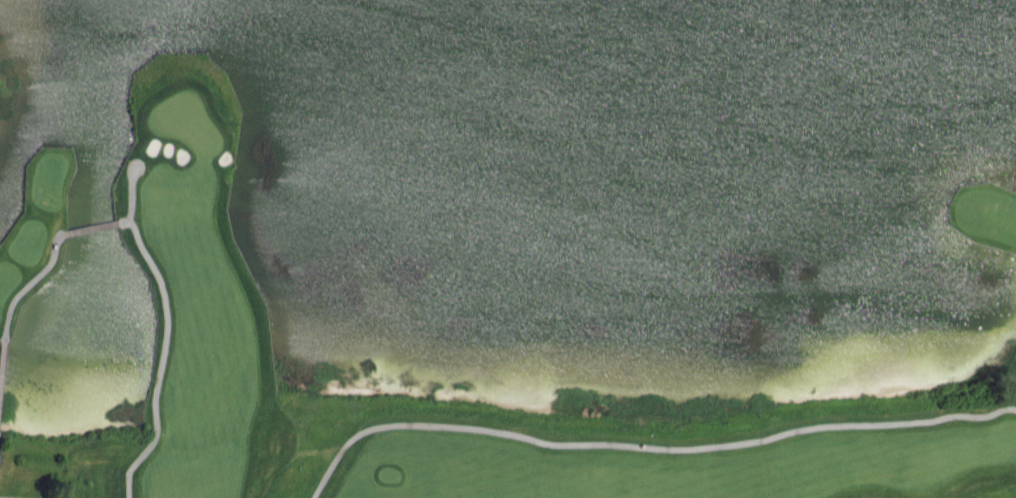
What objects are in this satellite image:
road: (134, 160)
road: (128, 188)
road: (87, 226)
park: (508, 249)
road: (30, 277)
road: (1, 339)
road: (161, 353)
road: (647, 444)
road: (15, 496)

